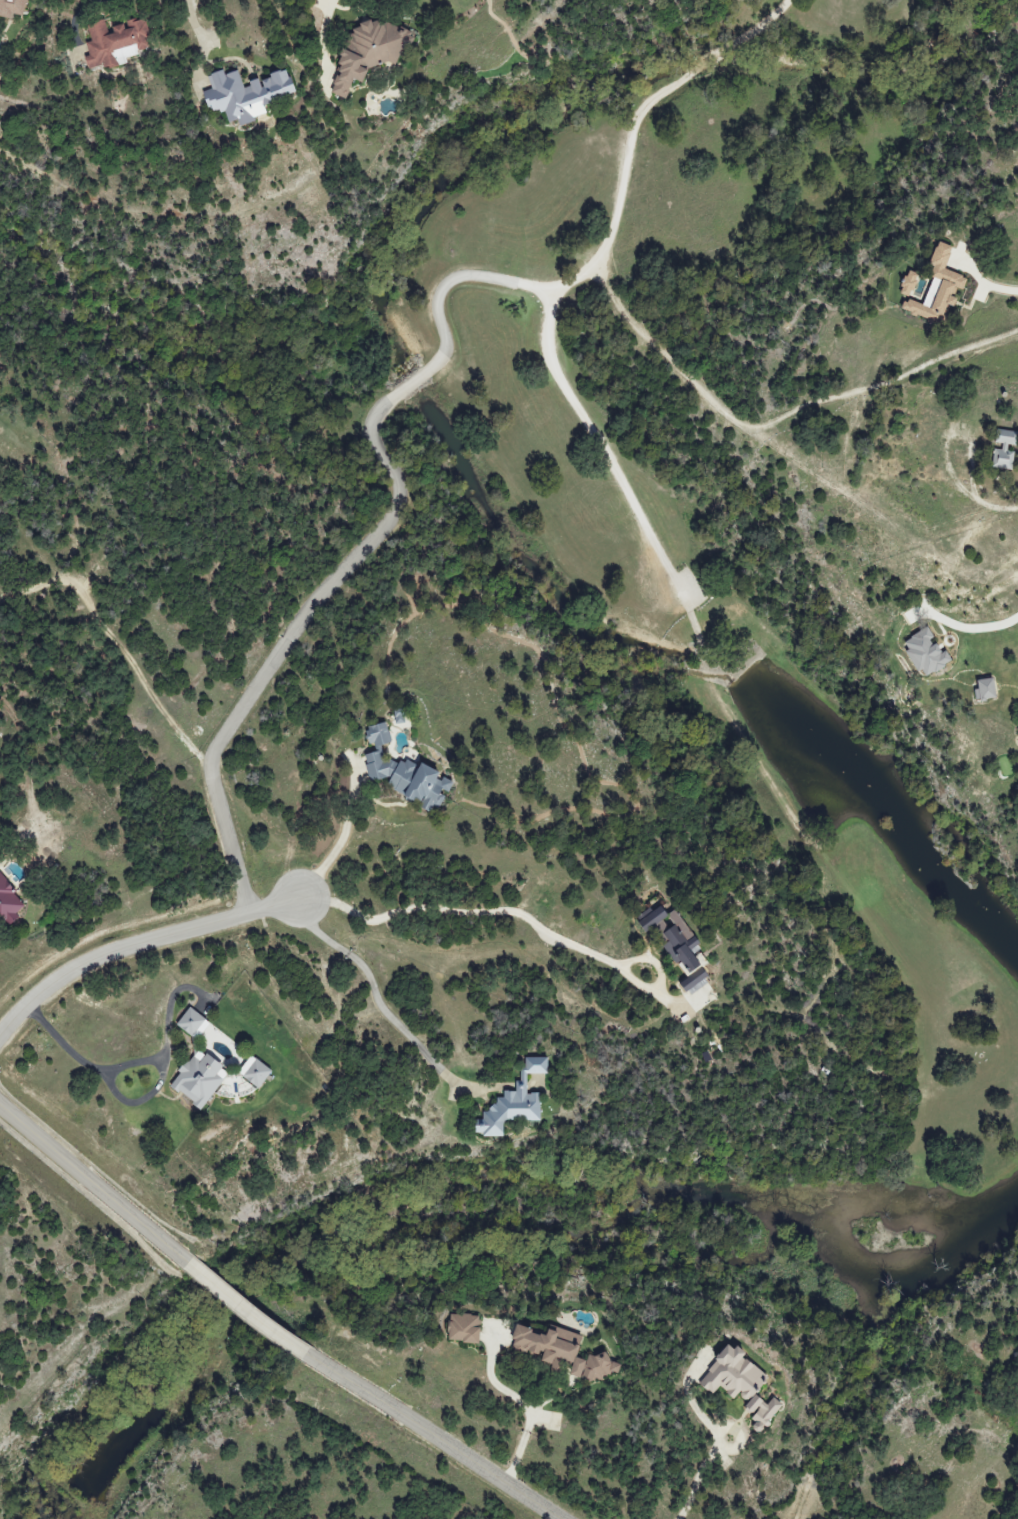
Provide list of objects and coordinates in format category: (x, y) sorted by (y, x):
road: (335, 2)
building: (12, 7)
road: (190, 16)
building: (115, 42)
building: (369, 51)
building: (245, 95)
building: (908, 283)
building: (938, 288)
road: (1001, 289)
road: (441, 297)
road: (643, 333)
road: (412, 384)
building: (1004, 449)
parking lot: (687, 590)
park: (668, 631)
road: (288, 635)
building: (925, 653)
building: (984, 688)
building: (404, 772)
road: (343, 835)
road: (498, 907)
building: (673, 936)
road: (136, 939)
building: (694, 979)
road: (374, 989)
building: (191, 1021)
road: (132, 1064)
building: (254, 1071)
building: (199, 1077)
road: (139, 1100)
building: (514, 1101)
road: (91, 1186)
road: (246, 1309)
building: (464, 1327)
building: (563, 1352)
building: (740, 1384)
road: (526, 1401)
road: (430, 1440)
road: (696, 1474)

